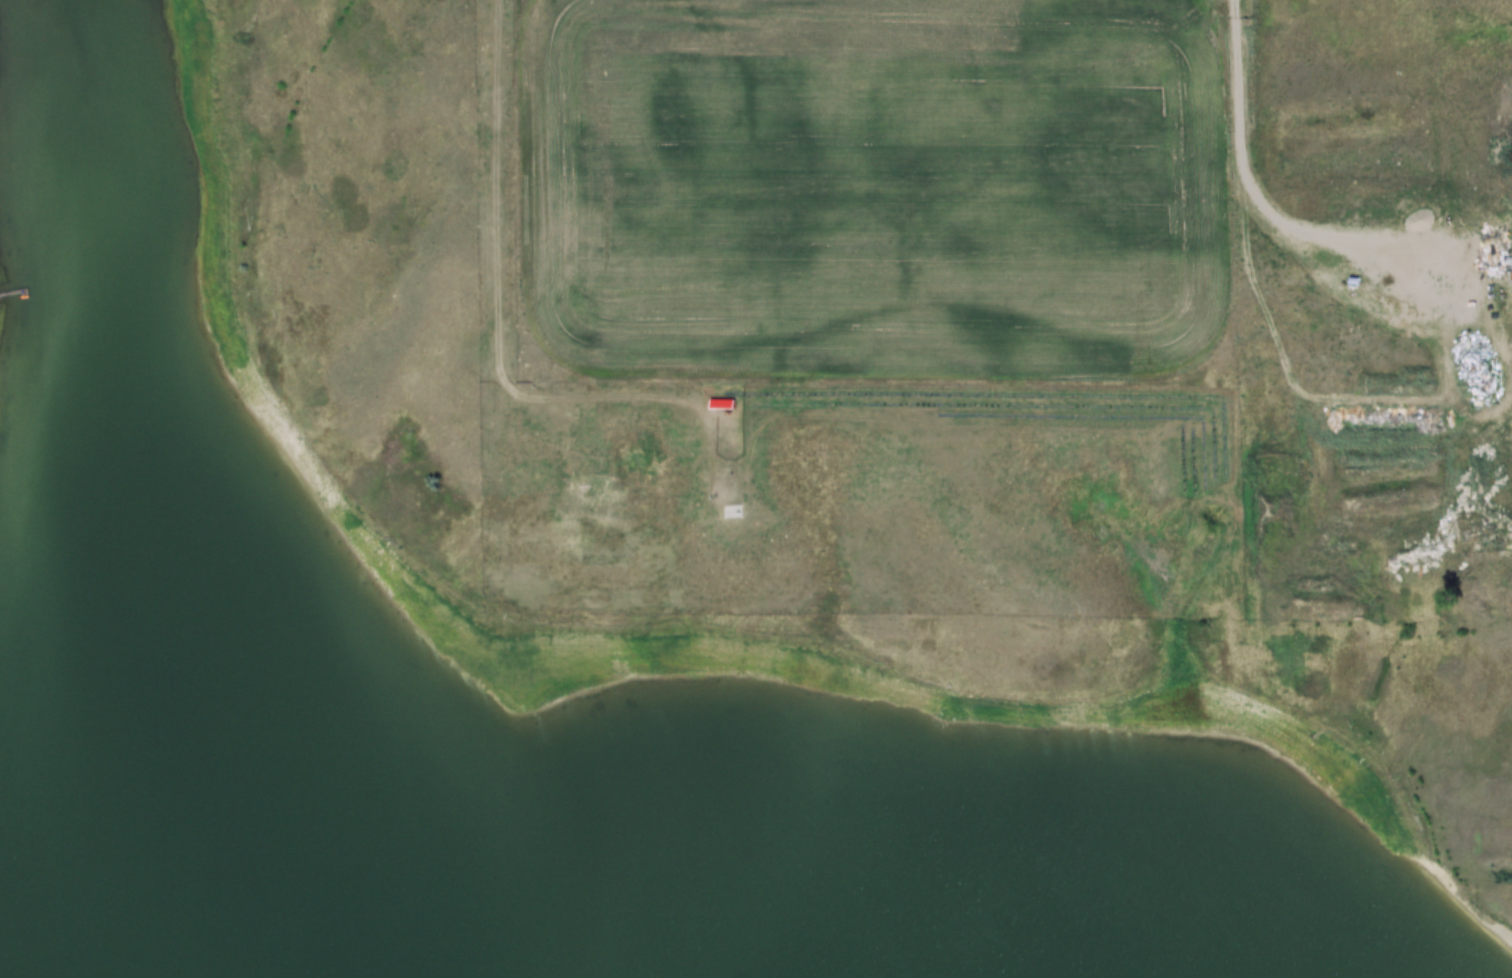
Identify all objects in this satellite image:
building: (729, 497)

